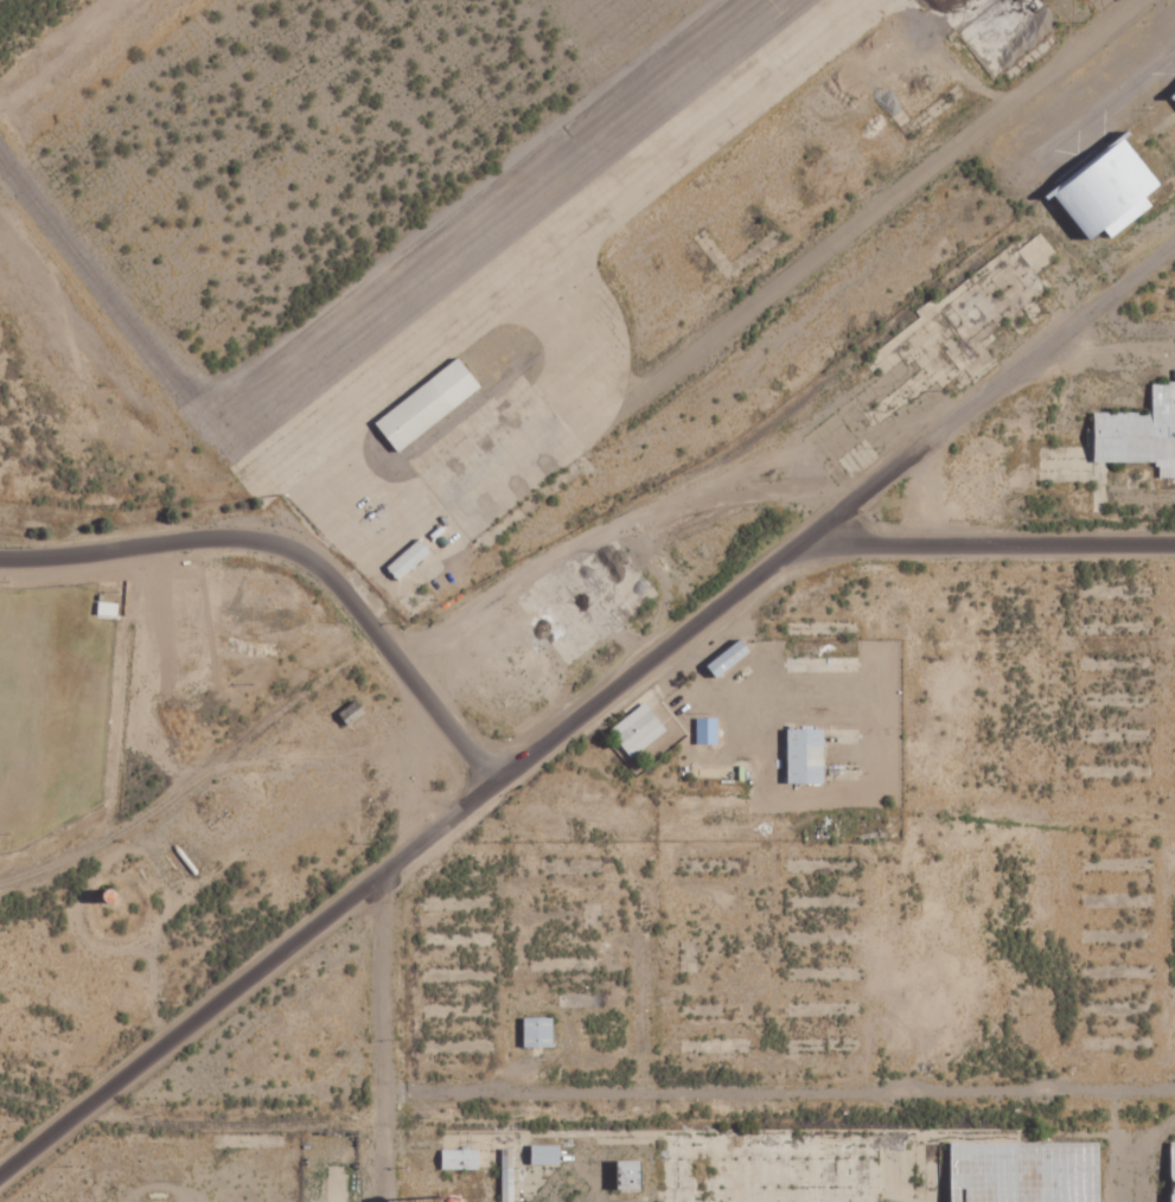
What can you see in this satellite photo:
building: (1086, 0)
building: (1112, 187)
road: (1117, 335)
airport taxiway: (387, 372)
building: (429, 402)
building: (1141, 434)
road: (991, 546)
road: (296, 558)
building: (410, 558)
road: (590, 714)
building: (639, 729)
building: (708, 730)
building: (807, 756)
road: (804, 836)
building: (541, 1032)
road: (381, 1042)
road: (778, 1075)
building: (548, 1155)
building: (1174, 1158)
building: (462, 1159)
building: (1029, 1171)

